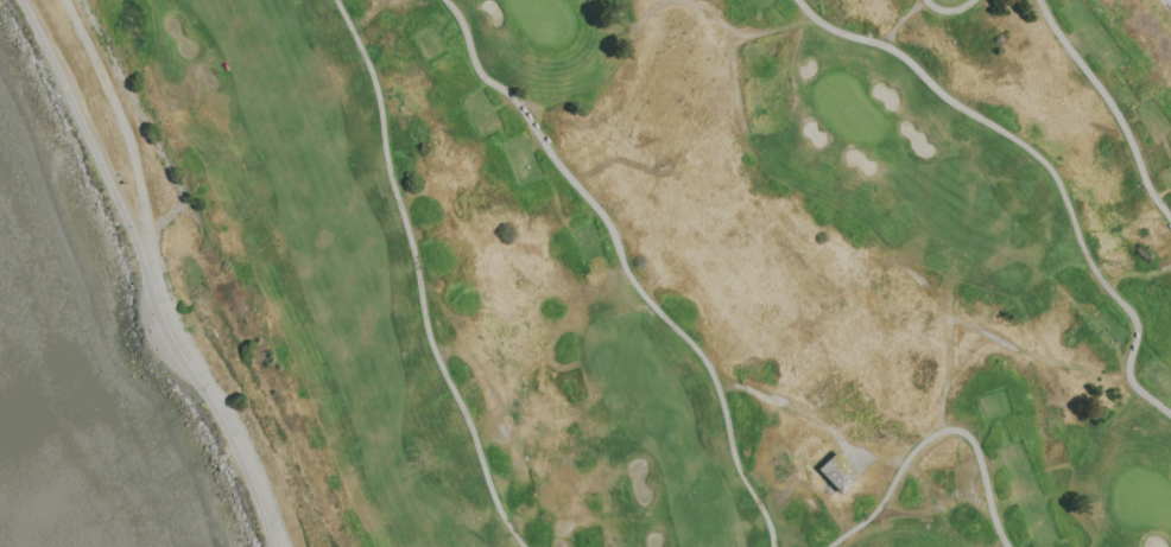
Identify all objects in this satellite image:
park: (542, 20)
park: (847, 110)
road: (99, 163)
park: (690, 261)
road: (158, 280)
building: (836, 472)
park: (1142, 501)

